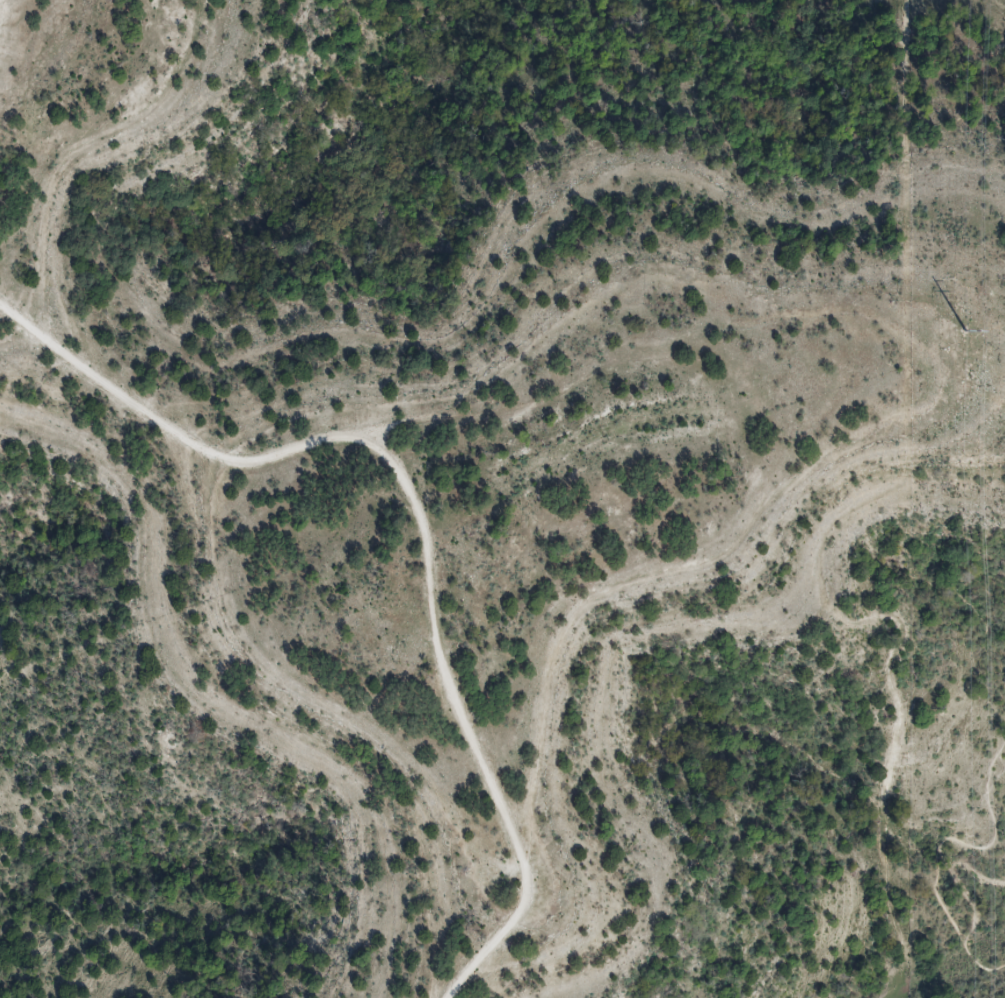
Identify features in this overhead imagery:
power tower: (967, 333)
road: (1000, 684)
road: (942, 838)

